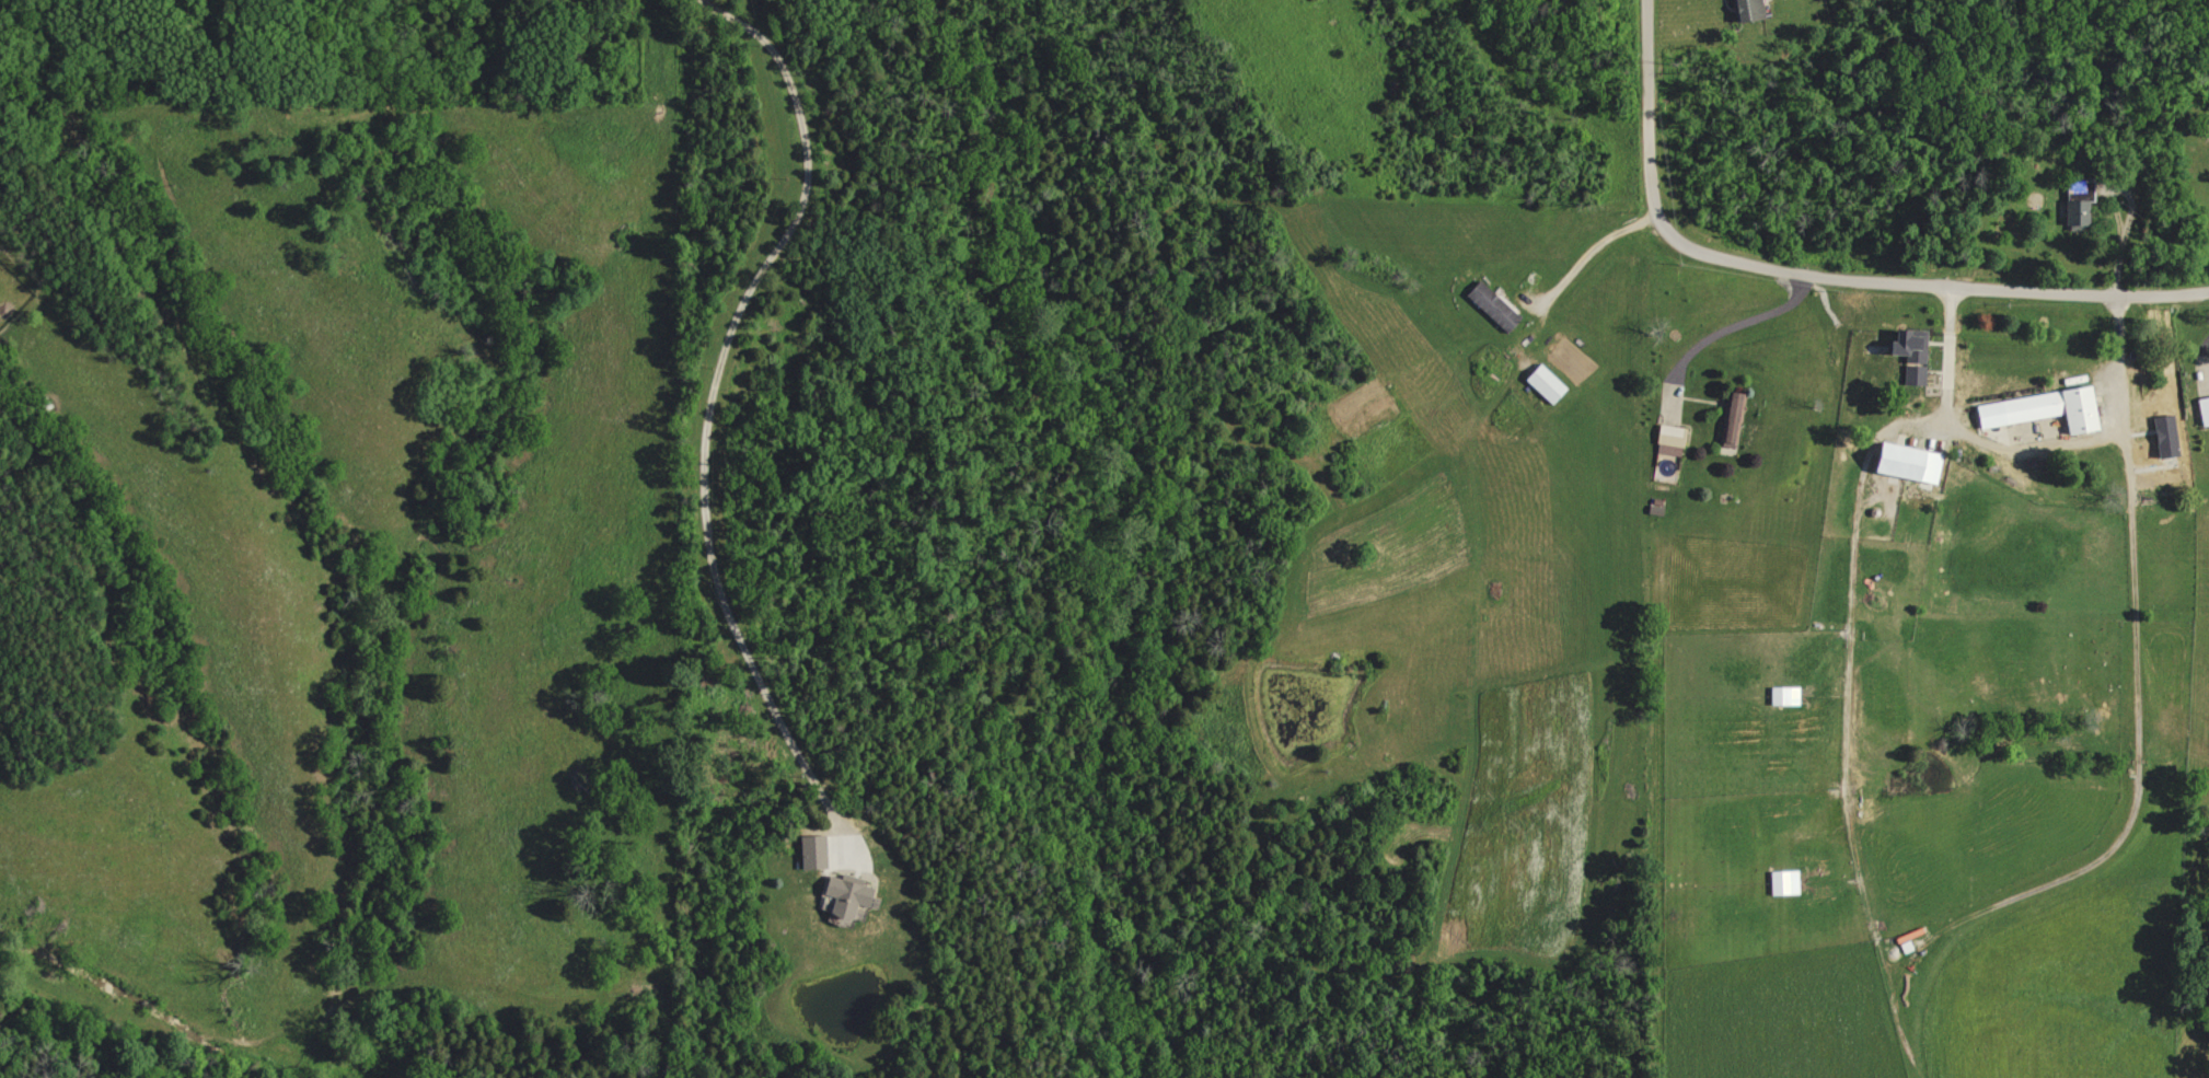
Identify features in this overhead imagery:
building: (1744, 10)
building: (2075, 207)
road: (1589, 250)
road: (1816, 276)
building: (1490, 306)
road: (1737, 324)
building: (1906, 355)
building: (1541, 384)
road: (708, 407)
building: (2038, 410)
building: (2202, 412)
building: (1731, 419)
building: (1667, 437)
building: (2163, 437)
road: (2033, 449)
building: (1901, 464)
building: (1782, 695)
road: (1840, 726)
building: (819, 851)
building: (1782, 882)
building: (856, 894)

